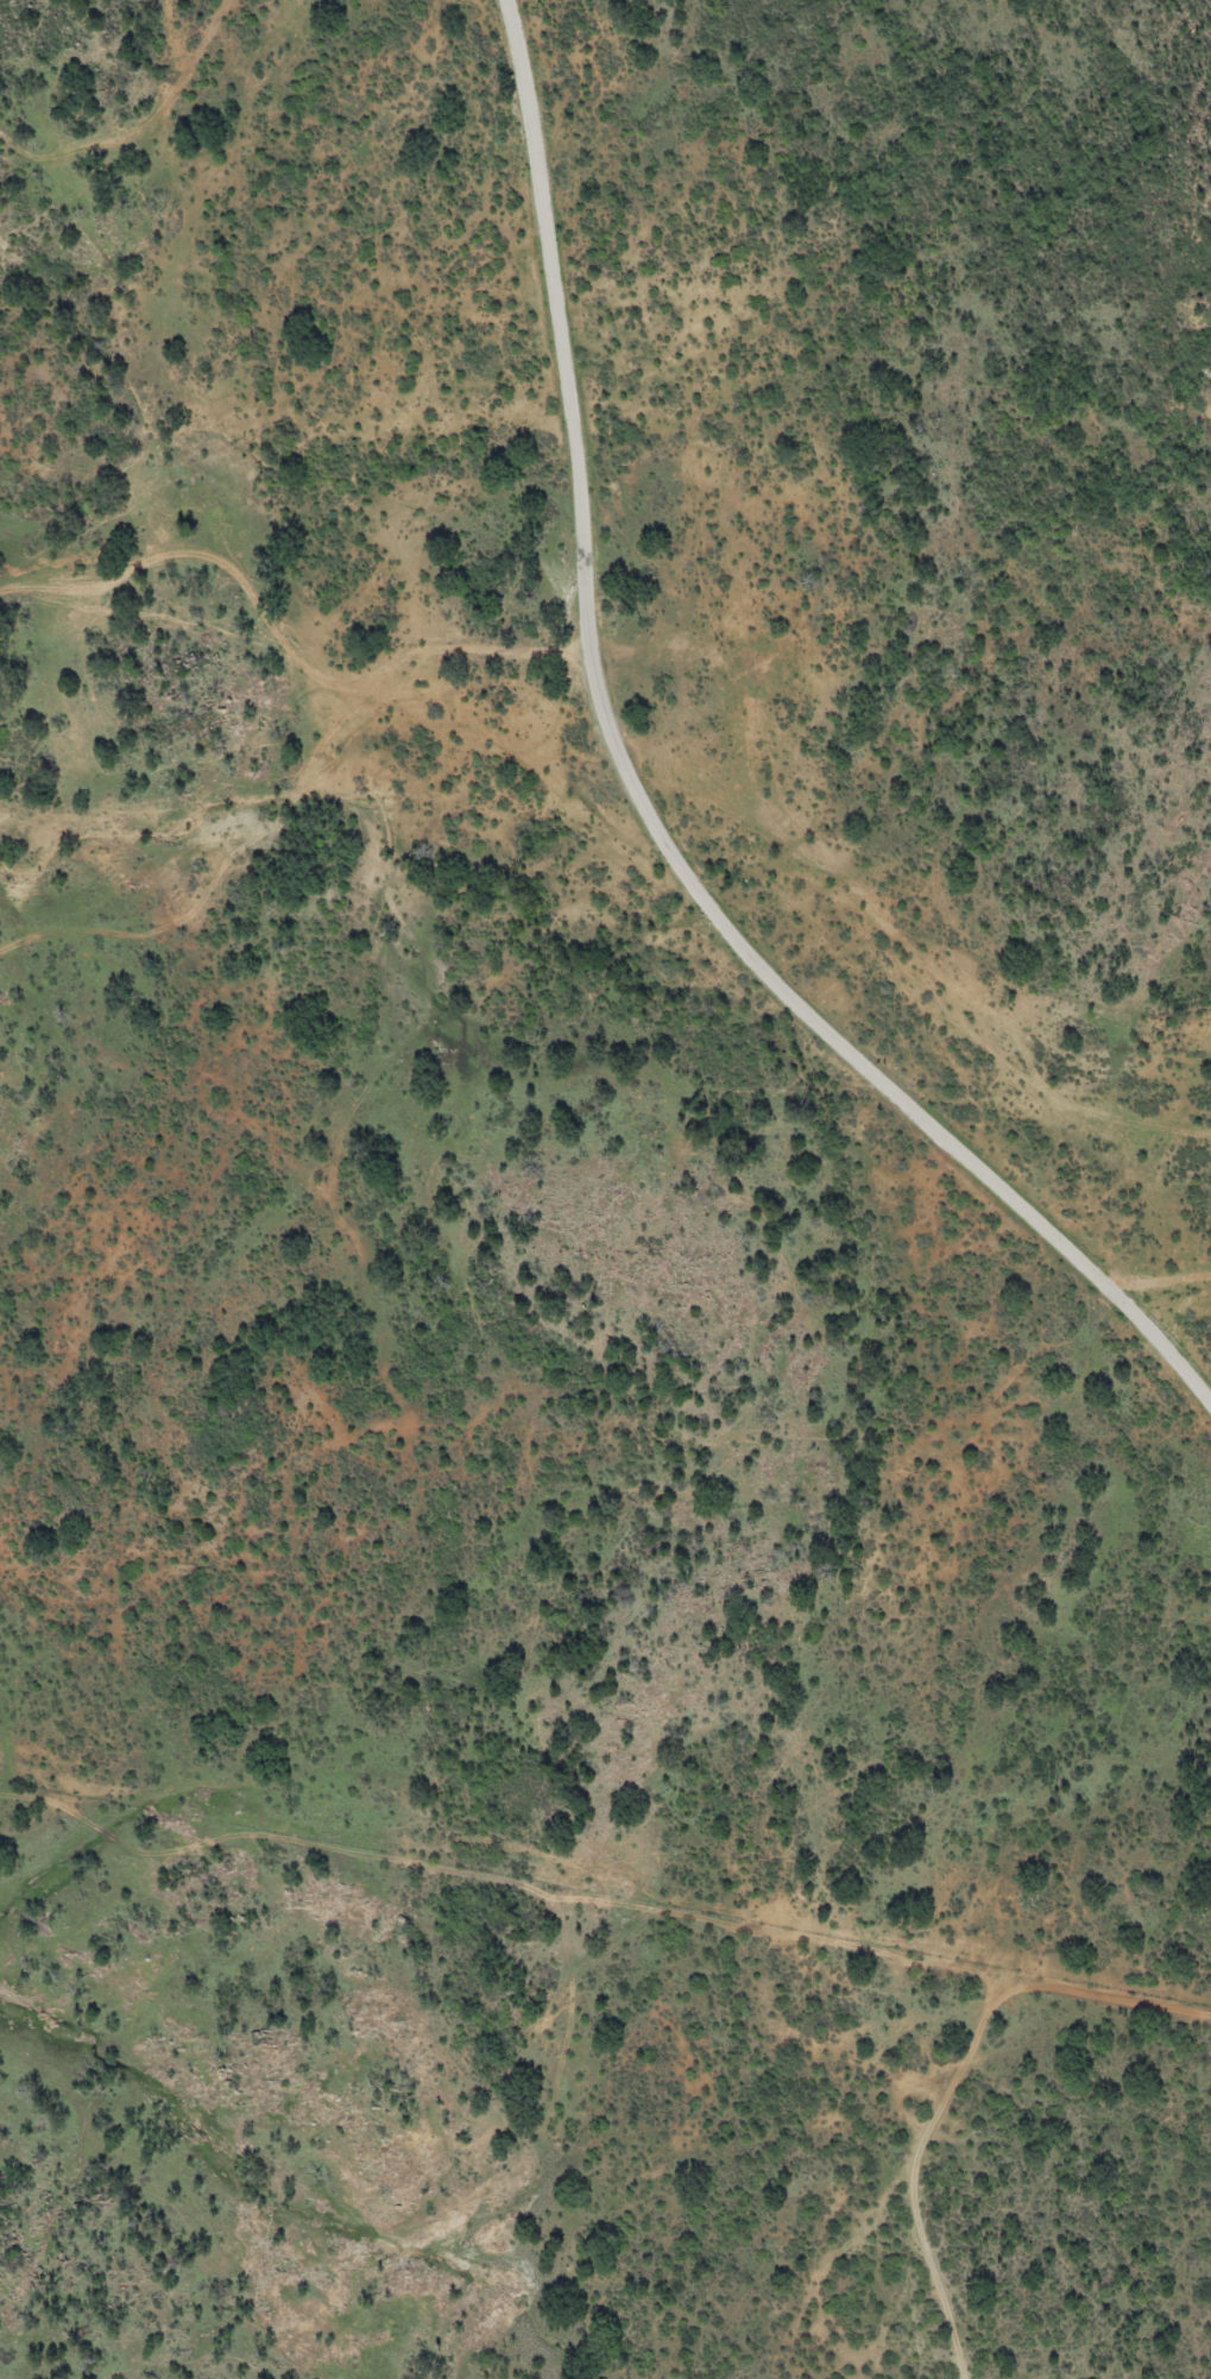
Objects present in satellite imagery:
road: (645, 809)
road: (947, 2078)

